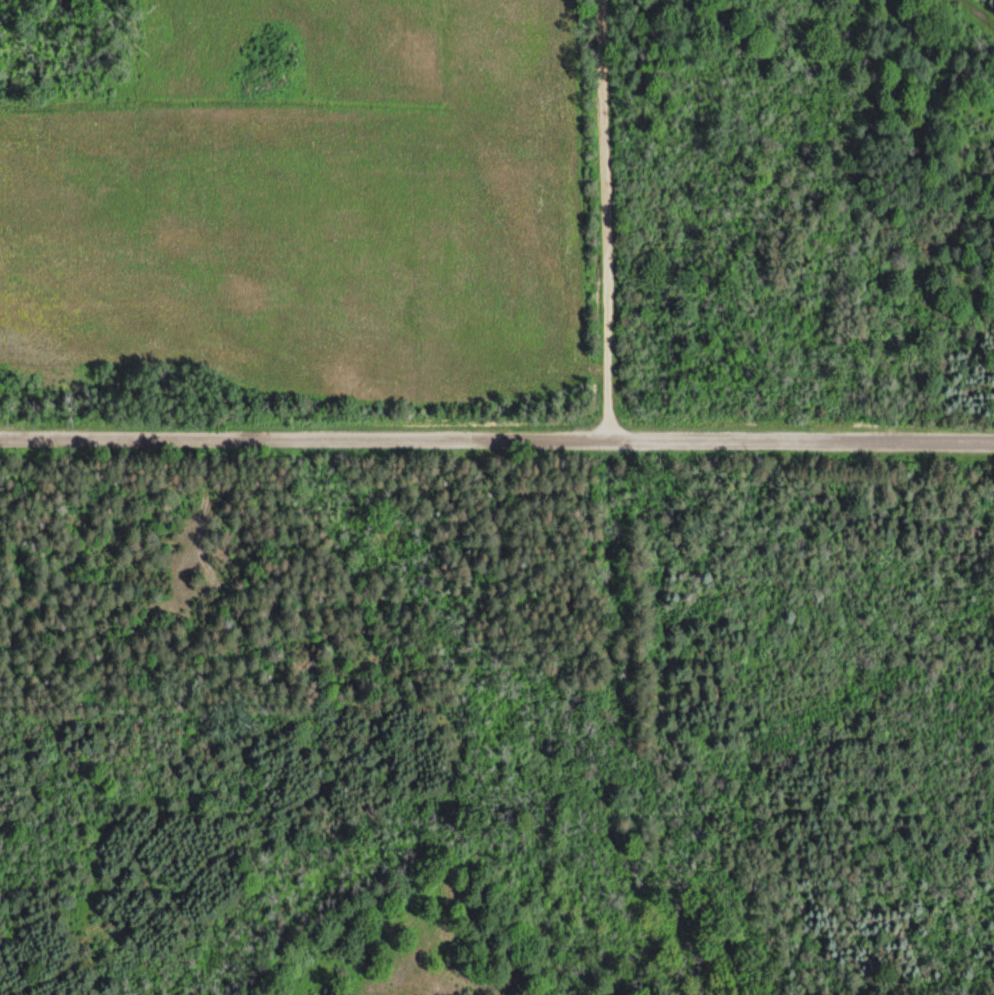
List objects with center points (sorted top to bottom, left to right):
road: (603, 215)
road: (497, 430)

